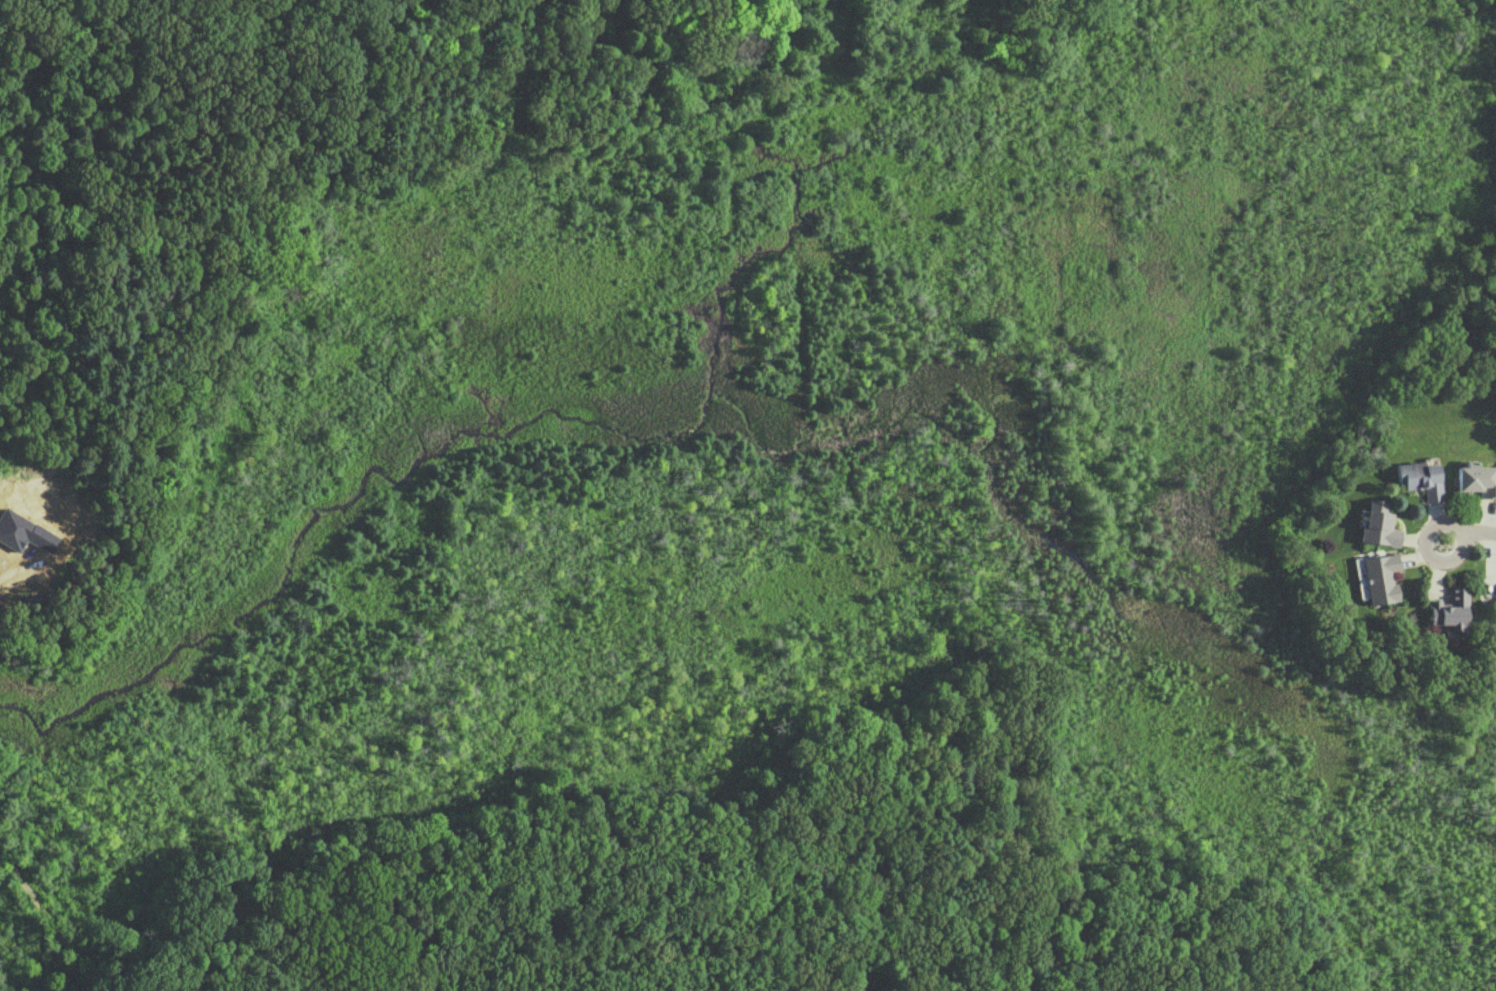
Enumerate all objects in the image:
building: (1421, 478)
building: (1477, 479)
building: (1377, 524)
road: (1478, 535)
road: (1426, 551)
building: (1381, 578)
building: (1451, 610)
road: (80, 949)

